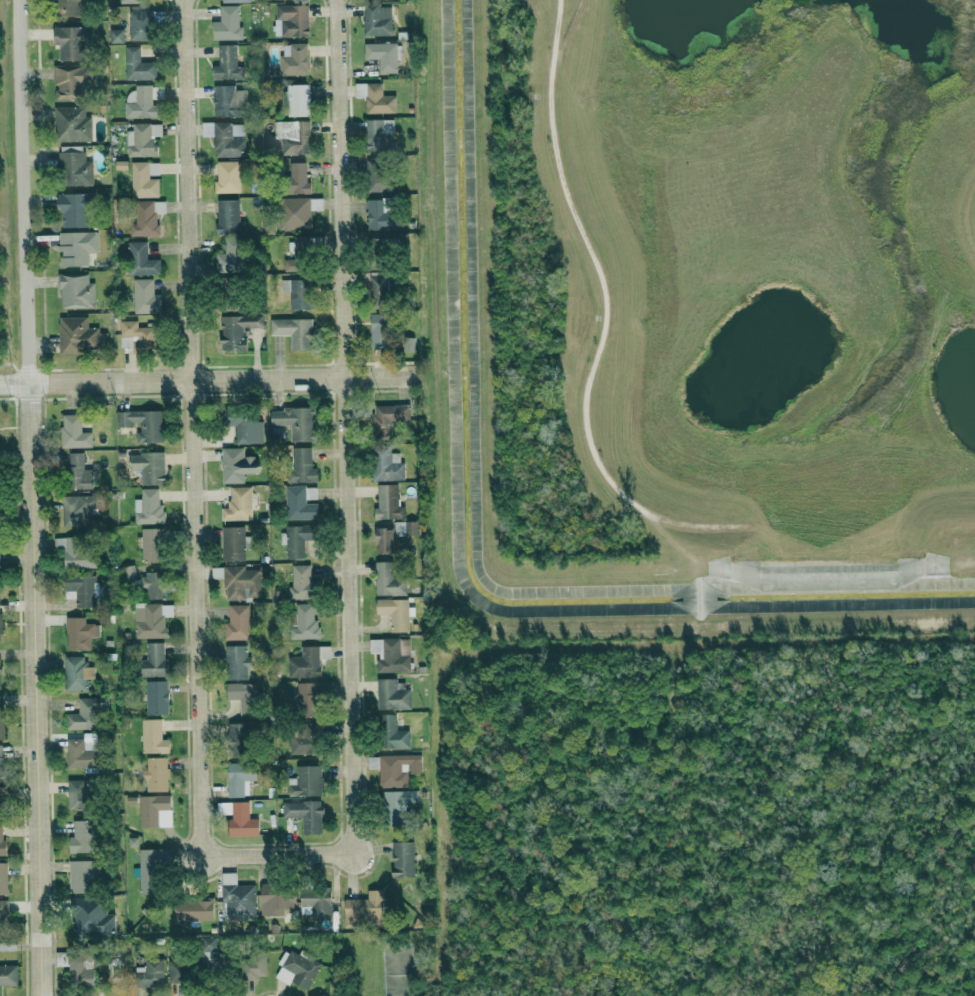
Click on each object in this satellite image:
building: (236, 0)
building: (131, 1)
building: (71, 8)
building: (291, 20)
building: (378, 20)
building: (228, 24)
building: (141, 25)
building: (116, 35)
building: (72, 42)
building: (383, 56)
building: (294, 59)
building: (226, 63)
building: (138, 65)
building: (72, 80)
building: (376, 98)
building: (298, 100)
building: (229, 101)
building: (140, 103)
building: (72, 124)
building: (380, 135)
building: (293, 137)
building: (227, 138)
building: (143, 139)
building: (74, 167)
building: (376, 176)
building: (228, 177)
building: (299, 177)
building: (145, 179)
building: (75, 210)
building: (295, 213)
building: (381, 215)
building: (147, 218)
building: (229, 218)
building: (384, 245)
building: (76, 247)
building: (299, 255)
building: (230, 256)
building: (141, 260)
building: (380, 281)
building: (76, 290)
building: (299, 292)
building: (146, 297)
building: (238, 330)
building: (380, 331)
building: (294, 332)
building: (79, 336)
building: (138, 337)
building: (409, 344)
road: (206, 379)
building: (389, 417)
building: (296, 422)
building: (143, 424)
building: (244, 426)
road: (344, 426)
road: (191, 427)
building: (74, 432)
building: (237, 465)
building: (388, 465)
building: (302, 466)
building: (149, 467)
building: (78, 473)
road: (29, 497)
building: (301, 503)
building: (389, 503)
building: (238, 504)
building: (149, 506)
building: (78, 510)
building: (394, 535)
building: (297, 539)
building: (233, 543)
building: (151, 544)
building: (74, 553)
building: (389, 580)
building: (239, 581)
building: (301, 582)
building: (153, 584)
building: (82, 589)
building: (396, 612)
building: (151, 619)
building: (304, 621)
building: (238, 622)
building: (0, 627)
building: (80, 633)
building: (324, 651)
building: (390, 653)
building: (153, 660)
building: (237, 661)
building: (305, 662)
building: (77, 673)
building: (0, 674)
building: (392, 694)
building: (156, 696)
building: (243, 697)
building: (306, 698)
building: (86, 712)
building: (1, 718)
building: (392, 733)
building: (153, 736)
building: (238, 738)
building: (304, 739)
building: (90, 741)
building: (80, 755)
building: (373, 762)
building: (0, 765)
building: (398, 769)
building: (157, 773)
building: (240, 777)
building: (306, 781)
building: (79, 794)
building: (1, 803)
building: (398, 805)
building: (155, 810)
building: (305, 814)
building: (81, 836)
building: (2, 843)
road: (276, 854)
building: (403, 859)
building: (151, 870)
building: (83, 876)
building: (3, 878)
building: (238, 898)
building: (277, 898)
building: (316, 902)
building: (195, 909)
building: (365, 909)
building: (2, 916)
building: (91, 916)
building: (208, 947)
building: (254, 966)
building: (78, 967)
building: (298, 968)
building: (179, 970)
building: (151, 973)
building: (8, 974)
building: (318, 995)

